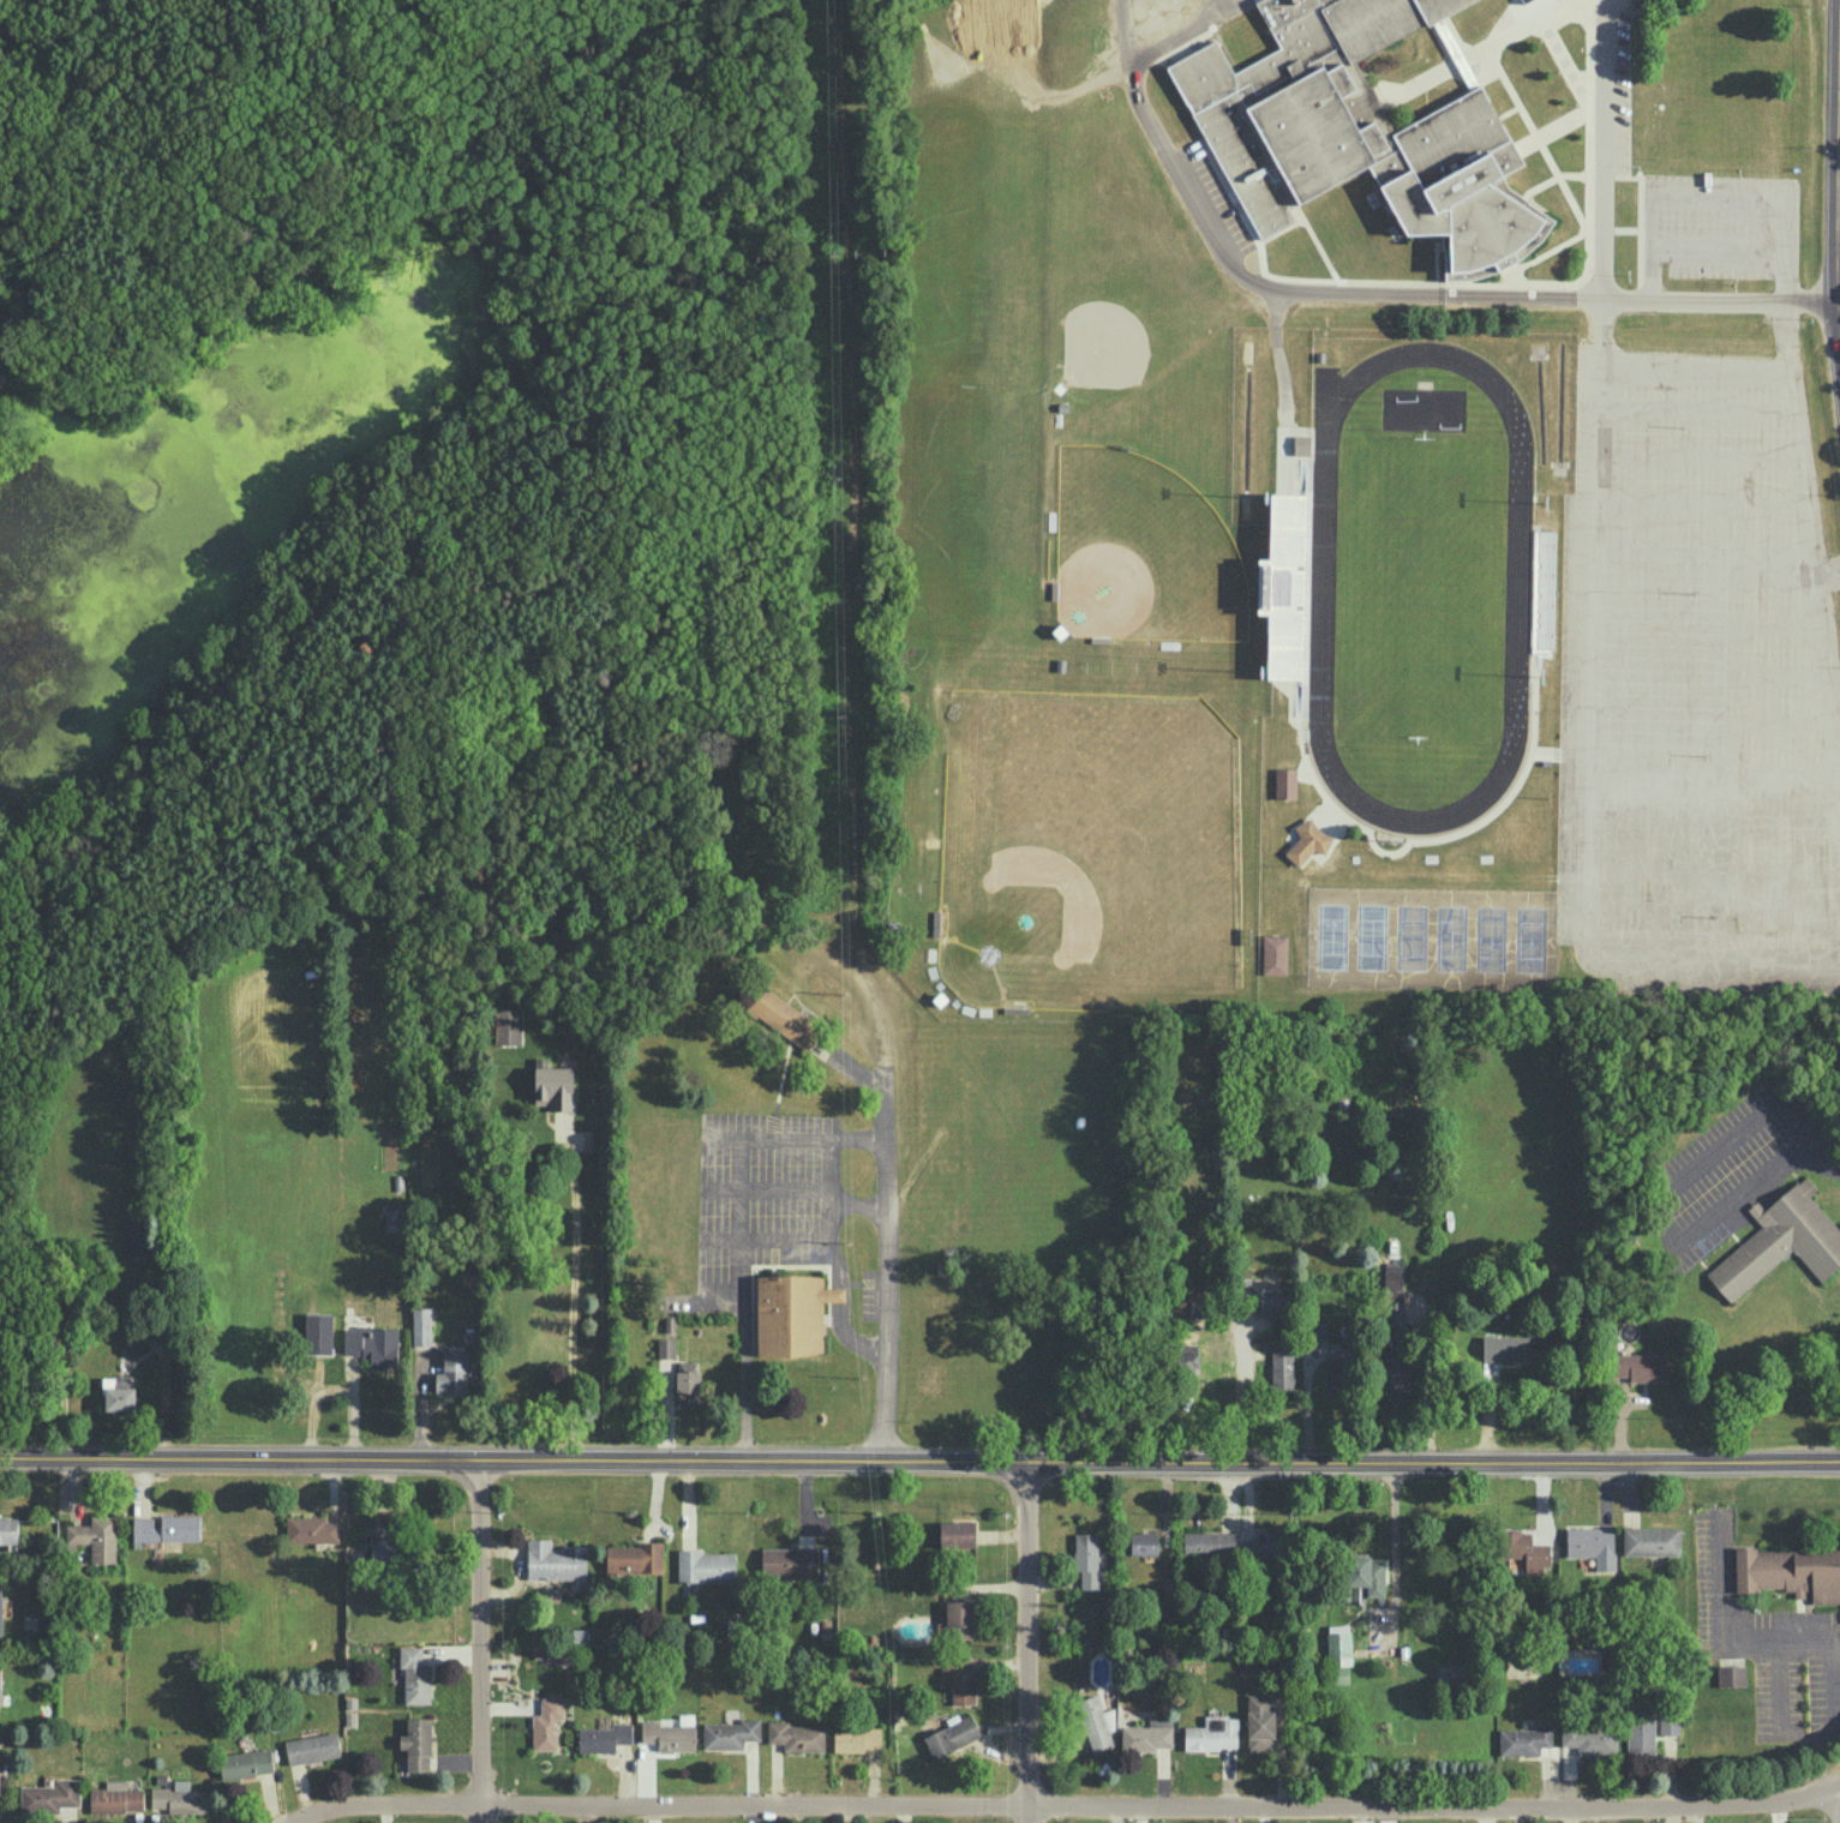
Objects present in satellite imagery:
building: (1359, 134)
road: (1605, 149)
road: (1719, 203)
parking lot: (1719, 228)
road: (1719, 254)
road: (1384, 295)
road: (1695, 370)
road: (1697, 412)
road: (1698, 458)
road: (1701, 509)
park: (1143, 556)
road: (1702, 568)
track: (1520, 588)
park: (1422, 592)
road: (1811, 600)
road: (1704, 631)
parking lot: (1698, 683)
road: (1590, 752)
park: (1091, 852)
park: (1331, 940)
park: (1371, 941)
park: (1412, 941)
park: (1451, 942)
park: (1491, 942)
park: (1530, 943)
building: (508, 1026)
building: (555, 1087)
road: (1817, 1164)
road: (816, 1189)
road: (1641, 1203)
road: (738, 1223)
road: (888, 1240)
building: (1780, 1241)
building: (823, 1290)
road: (573, 1311)
road: (114, 1324)
building: (421, 1325)
building: (1318, 1330)
building: (666, 1347)
building: (1508, 1348)
building: (1396, 1360)
building: (1640, 1366)
building: (452, 1373)
road: (1239, 1379)
building: (687, 1387)
road: (335, 1391)
road: (1307, 1401)
road: (919, 1458)
building: (167, 1528)
building: (7, 1529)
building: (311, 1529)
building: (95, 1536)
road: (1395, 1536)
building: (1650, 1540)
building: (1144, 1542)
building: (1209, 1542)
building: (1264, 1543)
building: (1593, 1545)
building: (1526, 1549)
building: (634, 1558)
building: (555, 1560)
building: (789, 1560)
building: (706, 1565)
building: (1790, 1571)
building: (1366, 1576)
building: (0, 1608)
road: (1724, 1632)
road: (478, 1641)
road: (1027, 1642)
building: (1338, 1653)
building: (415, 1674)
road: (1835, 1684)
road: (1779, 1704)
building: (1093, 1722)
building: (1668, 1723)
building: (731, 1733)
building: (1147, 1734)
building: (1212, 1734)
building: (669, 1735)
building: (796, 1735)
building: (952, 1735)
building: (1640, 1735)
building: (604, 1737)
building: (856, 1738)
building: (1524, 1739)
building: (1590, 1739)
building: (416, 1743)
building: (312, 1746)
road: (1817, 1749)
building: (246, 1763)
building: (50, 1795)
building: (115, 1797)
building: (179, 1798)
road: (1839, 1805)
road: (1063, 1806)

